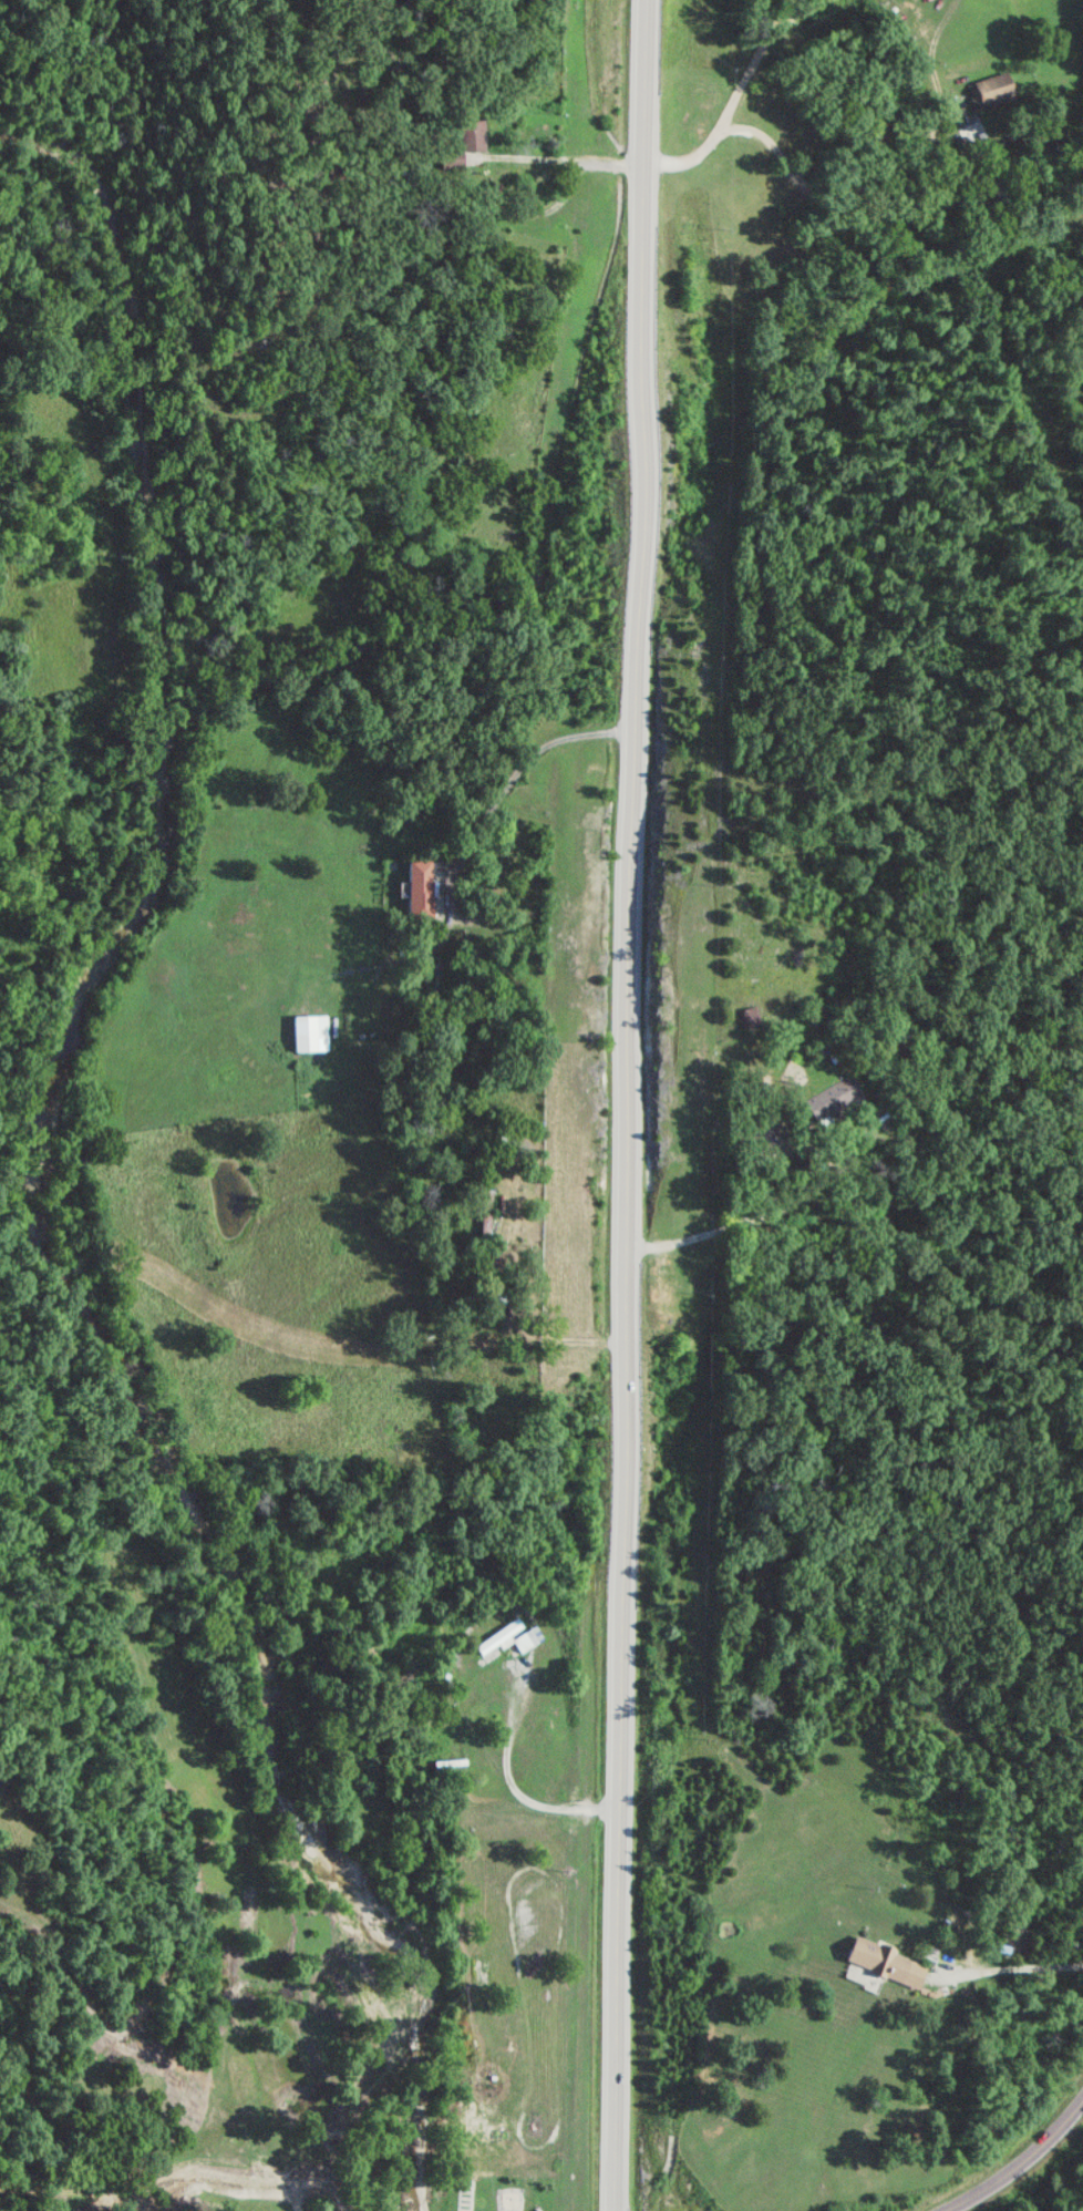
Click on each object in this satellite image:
building: (991, 90)
building: (467, 143)
building: (420, 888)
building: (751, 1016)
building: (311, 1031)
building: (834, 1097)
road: (628, 1104)
building: (764, 1137)
building: (491, 1213)
building: (507, 1637)
building: (455, 1737)
building: (878, 1960)
road: (1011, 1966)
road: (1017, 2160)

